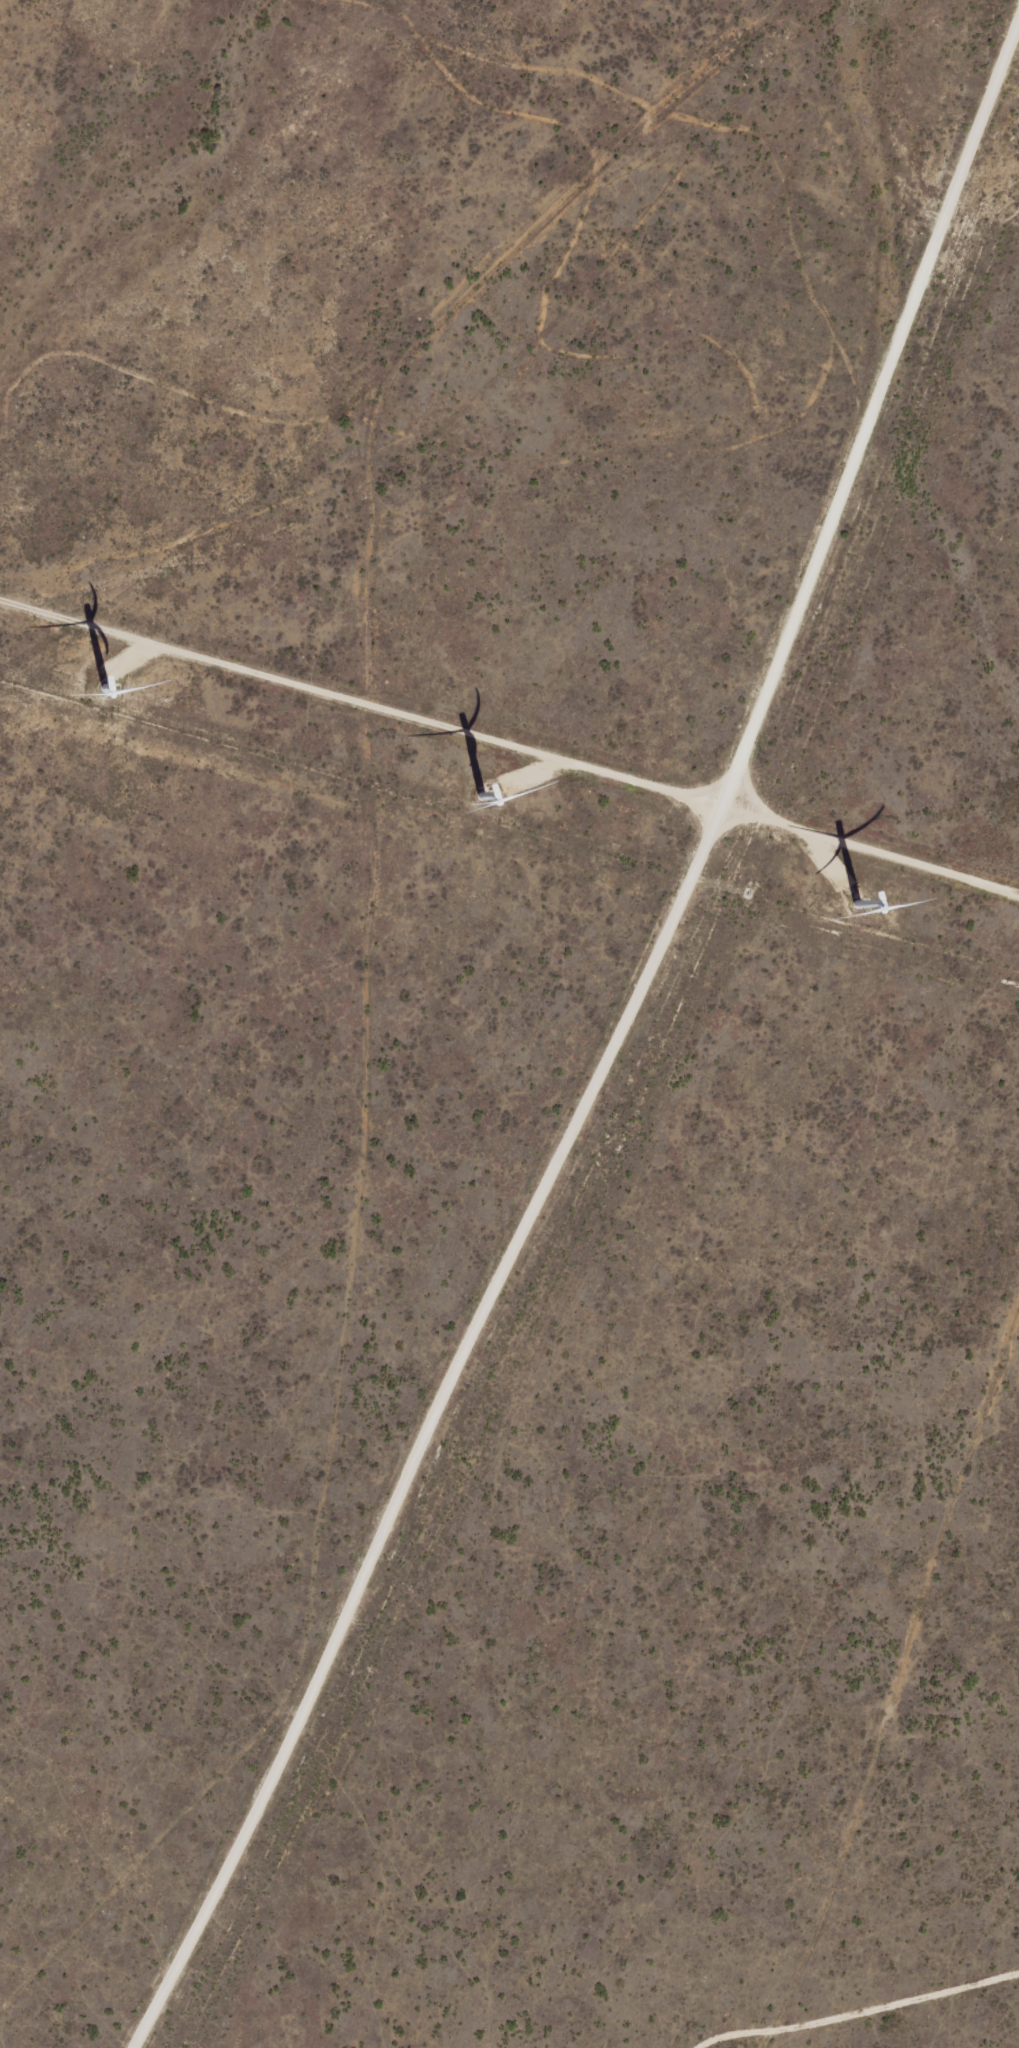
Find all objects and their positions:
wind turbine: (68, 688)
wind turbine: (448, 772)
wind turbine: (823, 917)
road: (373, 974)

